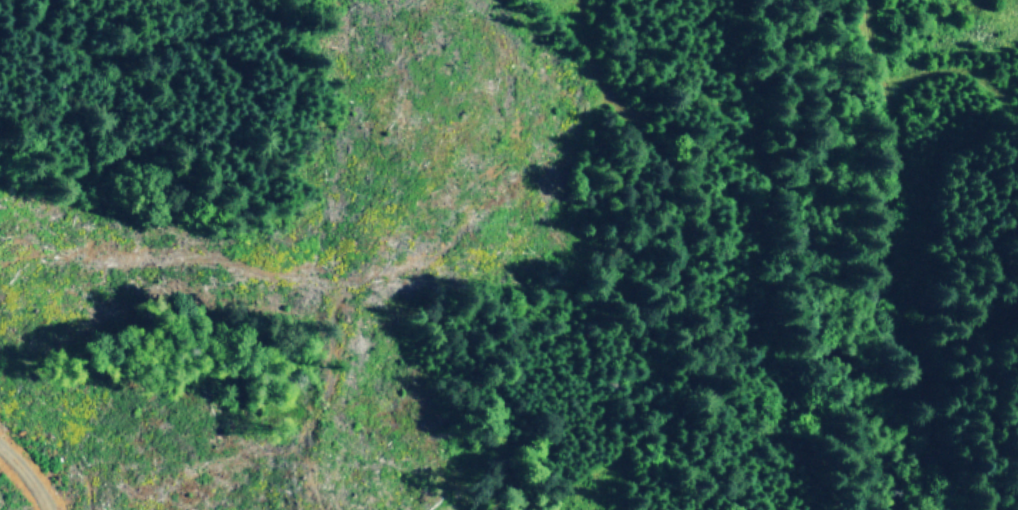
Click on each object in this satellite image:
road: (888, 259)

